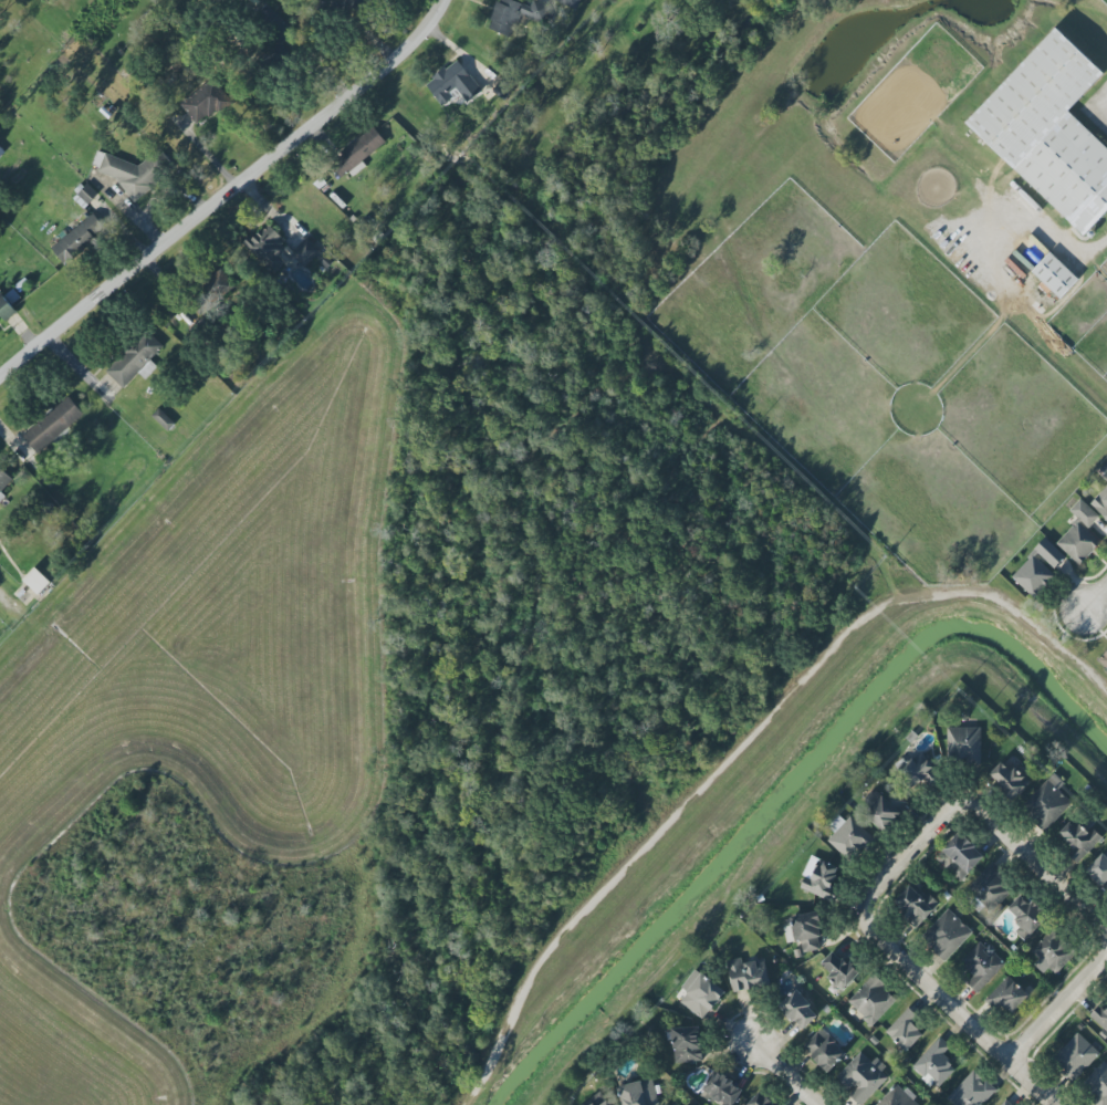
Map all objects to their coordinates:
building: (570, 3)
building: (356, 4)
building: (514, 14)
building: (273, 23)
building: (452, 84)
building: (205, 102)
road: (1103, 105)
building: (1049, 131)
building: (357, 154)
building: (125, 171)
building: (86, 192)
road: (229, 194)
road: (1042, 232)
building: (76, 240)
building: (267, 247)
building: (305, 252)
building: (1054, 275)
building: (216, 284)
building: (6, 309)
building: (190, 315)
building: (135, 359)
building: (163, 419)
building: (52, 425)
building: (1105, 475)
building: (3, 480)
building: (1100, 502)
building: (1079, 533)
building: (1037, 569)
building: (36, 581)
road: (18, 595)
road: (1095, 600)
building: (1104, 659)
building: (963, 744)
building: (917, 771)
building: (1009, 780)
building: (1047, 802)
building: (885, 806)
building: (848, 837)
building: (1079, 837)
road: (906, 853)
building: (960, 856)
road: (1038, 867)
building: (1099, 871)
building: (819, 878)
building: (990, 888)
building: (916, 904)
building: (1025, 916)
building: (804, 930)
building: (947, 935)
building: (1051, 952)
building: (981, 966)
building: (838, 970)
building: (748, 974)
building: (701, 993)
building: (1006, 995)
building: (871, 1000)
road: (1061, 1002)
building: (798, 1010)
road: (952, 1011)
building: (1099, 1017)
building: (905, 1030)
building: (686, 1044)
building: (824, 1050)
building: (1075, 1056)
building: (934, 1064)
road: (784, 1072)
building: (861, 1077)
building: (1098, 1083)
building: (722, 1090)
building: (971, 1091)
building: (638, 1093)
building: (897, 1097)
building: (597, 1099)
building: (759, 1101)
building: (1006, 1103)

